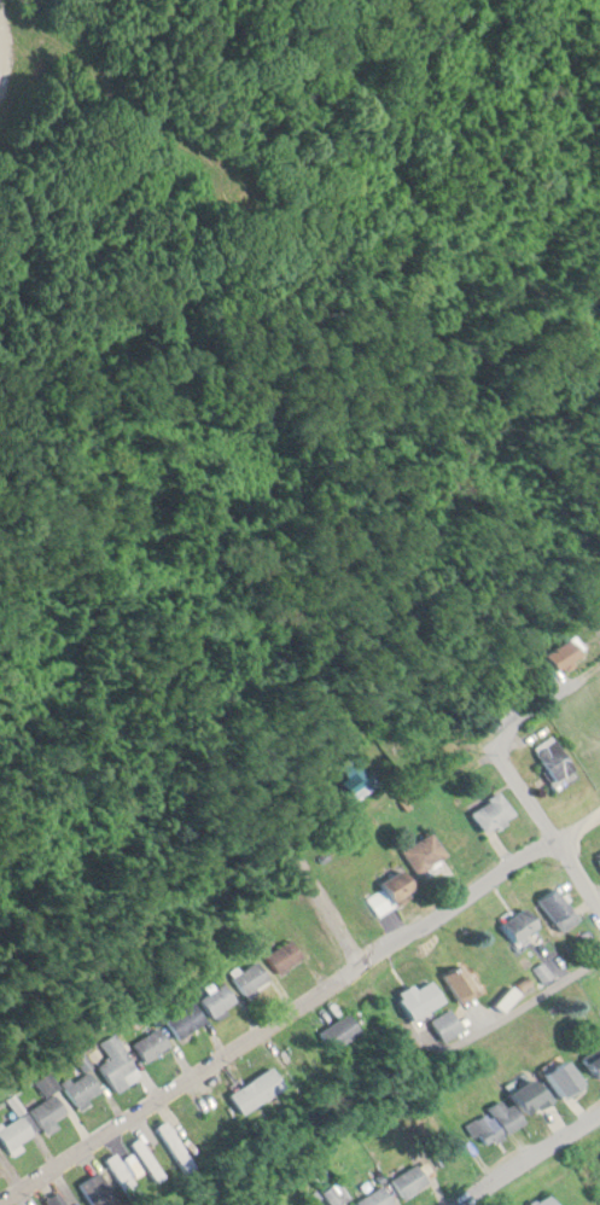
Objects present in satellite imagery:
building: (558, 652)
building: (494, 715)
road: (502, 733)
building: (549, 759)
building: (348, 776)
building: (488, 810)
building: (419, 851)
building: (598, 858)
road: (577, 871)
building: (386, 891)
road: (324, 898)
building: (555, 907)
building: (515, 922)
building: (282, 955)
building: (251, 977)
building: (456, 982)
building: (216, 997)
building: (416, 997)
road: (301, 1006)
road: (513, 1009)
building: (184, 1018)
building: (442, 1024)
building: (333, 1030)
building: (150, 1043)
building: (115, 1060)
building: (592, 1064)
building: (269, 1076)
building: (560, 1078)
building: (82, 1087)
building: (507, 1111)
building: (31, 1120)
building: (190, 1125)
building: (171, 1145)
road: (528, 1157)
building: (144, 1159)
building: (121, 1176)
building: (406, 1178)
building: (95, 1189)
building: (373, 1198)
building: (52, 1199)
building: (541, 1200)

